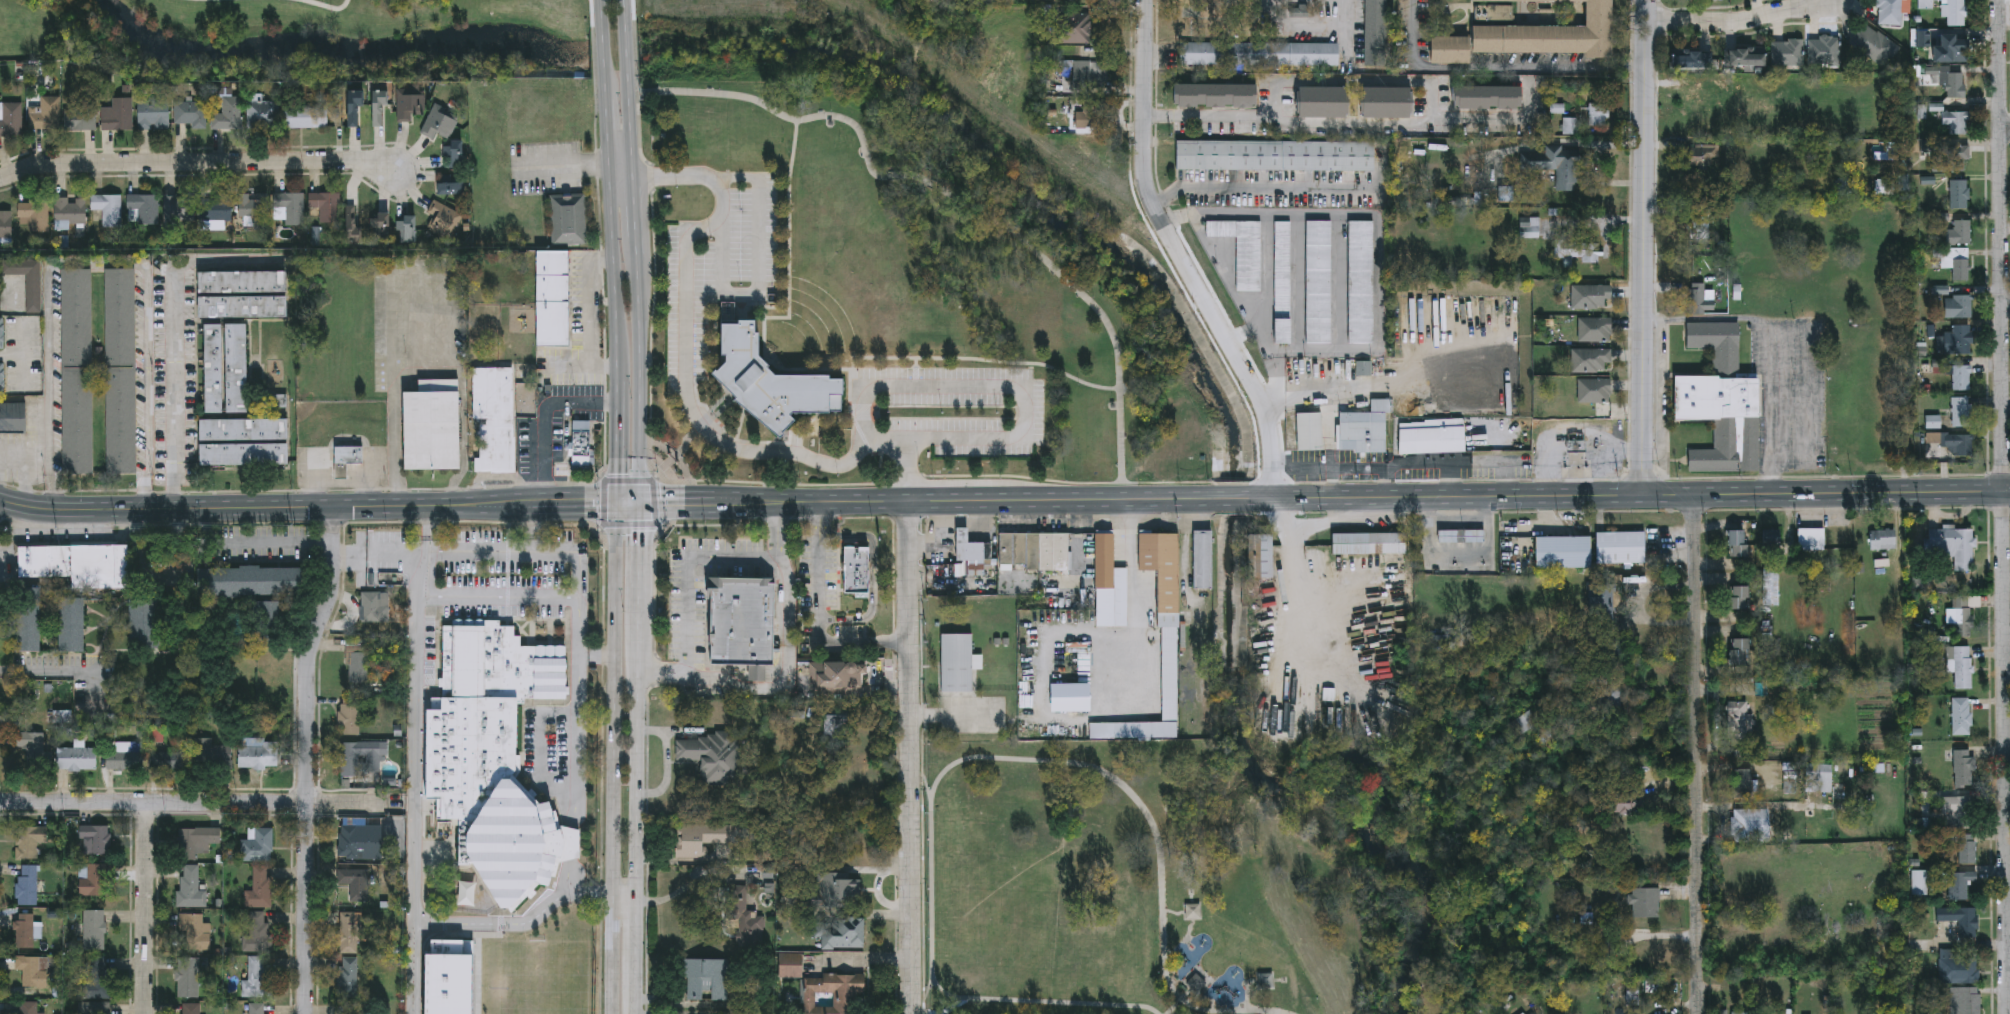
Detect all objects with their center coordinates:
road: (194, 0)
road: (599, 5)
road: (326, 8)
building: (1500, 11)
building: (1889, 11)
building: (1956, 12)
road: (1739, 21)
building: (1073, 27)
road: (1348, 29)
building: (1376, 32)
building: (1550, 34)
park: (304, 38)
building: (1874, 43)
building: (1958, 46)
road: (605, 48)
building: (1447, 48)
building: (1823, 50)
building: (1258, 51)
building: (1787, 52)
building: (1745, 56)
building: (1691, 58)
road: (1497, 67)
building: (1090, 74)
road: (1355, 80)
building: (1952, 81)
road: (629, 85)
building: (1212, 93)
building: (1485, 95)
building: (1697, 97)
building: (1320, 100)
building: (1383, 100)
building: (410, 108)
building: (381, 110)
building: (356, 111)
building: (1091, 114)
building: (264, 115)
building: (1598, 115)
building: (48, 116)
building: (155, 116)
building: (192, 116)
building: (229, 116)
building: (120, 117)
building: (307, 119)
building: (82, 120)
building: (11, 121)
building: (1955, 121)
road: (1356, 122)
building: (1570, 126)
building: (441, 127)
road: (2007, 128)
road: (609, 133)
building: (454, 156)
building: (1275, 156)
building: (1951, 157)
building: (1703, 158)
road: (199, 162)
building: (1555, 164)
road: (622, 170)
building: (452, 186)
road: (1265, 187)
building: (1959, 192)
road: (952, 195)
road: (635, 203)
building: (327, 207)
building: (180, 209)
building: (217, 209)
building: (292, 209)
building: (108, 210)
building: (143, 211)
building: (255, 211)
building: (70, 213)
building: (34, 216)
building: (569, 220)
building: (445, 221)
building: (1701, 223)
building: (6, 226)
building: (354, 226)
building: (1531, 227)
building: (381, 228)
building: (408, 230)
building: (1955, 244)
road: (637, 245)
road: (1645, 246)
building: (1242, 250)
building: (1577, 250)
road: (1183, 255)
road: (1380, 262)
road: (97, 263)
road: (616, 275)
road: (757, 279)
building: (1318, 282)
building: (1361, 282)
building: (242, 283)
building: (1282, 283)
road: (1230, 285)
building: (14, 288)
building: (1592, 296)
building: (1700, 299)
building: (554, 300)
building: (1957, 305)
road: (2007, 305)
building: (242, 307)
road: (587, 316)
building: (1594, 329)
building: (2, 335)
building: (1958, 336)
road: (686, 351)
road: (24, 353)
road: (12, 355)
building: (1590, 359)
building: (213, 369)
building: (235, 369)
building: (121, 372)
building: (77, 373)
road: (432, 373)
building: (1961, 374)
building: (769, 377)
road: (641, 378)
building: (2, 380)
road: (1396, 383)
road: (601, 384)
road: (1007, 389)
road: (176, 390)
building: (1593, 390)
building: (1720, 401)
building: (1961, 409)
road: (543, 418)
building: (13, 420)
building: (495, 421)
building: (431, 427)
building: (1308, 431)
building: (1361, 431)
building: (1431, 436)
road: (620, 441)
building: (242, 443)
building: (582, 444)
building: (1958, 444)
road: (14, 456)
building: (347, 460)
road: (2005, 477)
road: (627, 480)
road: (26, 481)
road: (342, 481)
road: (1629, 494)
road: (927, 498)
road: (1231, 498)
traffic signals: (620, 502)
road: (630, 502)
road: (604, 503)
traffic signals: (641, 503)
road: (655, 505)
road: (309, 507)
road: (431, 514)
road: (1459, 523)
road: (431, 524)
road: (627, 524)
road: (1132, 532)
building: (1461, 536)
building: (1772, 538)
building: (1810, 539)
building: (1882, 540)
road: (280, 541)
building: (1736, 542)
building: (1368, 543)
building: (1953, 546)
building: (1621, 547)
building: (1034, 551)
road: (532, 552)
building: (1562, 552)
building: (1258, 553)
road: (378, 555)
building: (971, 555)
building: (1201, 559)
building: (78, 564)
building: (858, 567)
road: (159, 569)
road: (692, 570)
road: (874, 574)
building: (254, 580)
building: (1109, 584)
road: (421, 593)
building: (1770, 595)
building: (1737, 596)
road: (493, 598)
road: (819, 612)
building: (1961, 614)
building: (28, 619)
building: (742, 619)
building: (144, 623)
building: (72, 624)
road: (1134, 633)
building: (1738, 650)
road: (784, 661)
building: (956, 663)
building: (1169, 663)
building: (1960, 665)
road: (68, 667)
building: (356, 667)
building: (835, 675)
building: (1603, 702)
road: (574, 711)
road: (951, 714)
building: (346, 716)
building: (1736, 716)
building: (1961, 716)
building: (1532, 718)
building: (31, 743)
road: (541, 747)
road: (1700, 753)
building: (710, 754)
building: (355, 755)
road: (910, 755)
building: (257, 756)
building: (213, 757)
road: (616, 757)
building: (77, 758)
building: (122, 758)
road: (308, 758)
building: (494, 758)
road: (637, 758)
road: (980, 759)
building: (168, 760)
building: (1963, 768)
building: (1817, 773)
building: (1789, 776)
building: (1741, 783)
road: (923, 784)
road: (2009, 790)
building: (1624, 800)
road: (187, 802)
road: (415, 807)
building: (1958, 811)
building: (1748, 823)
building: (698, 836)
building: (96, 838)
building: (357, 839)
building: (196, 841)
building: (29, 842)
road: (571, 843)
building: (256, 845)
building: (1966, 848)
building: (94, 879)
park: (1152, 880)
building: (1918, 882)
building: (1960, 883)
building: (187, 884)
building: (29, 885)
building: (355, 885)
building: (259, 888)
building: (842, 889)
road: (595, 894)
road: (626, 901)
building: (1644, 904)
road: (145, 908)
building: (1192, 913)
building: (743, 916)
building: (1959, 920)
road: (516, 924)
building: (29, 930)
building: (94, 930)
building: (843, 931)
building: (193, 932)
building: (351, 932)
building: (256, 934)
building: (1957, 966)
building: (33, 971)
building: (97, 977)
building: (187, 977)
building: (346, 977)
building: (255, 978)
building: (705, 978)
building: (822, 988)
building: (1964, 1001)
building: (29, 1008)
building: (95, 1008)
road: (951, 1008)
road: (1172, 1008)
building: (191, 1009)
building: (256, 1009)
building: (362, 1009)
building: (1738, 1013)

